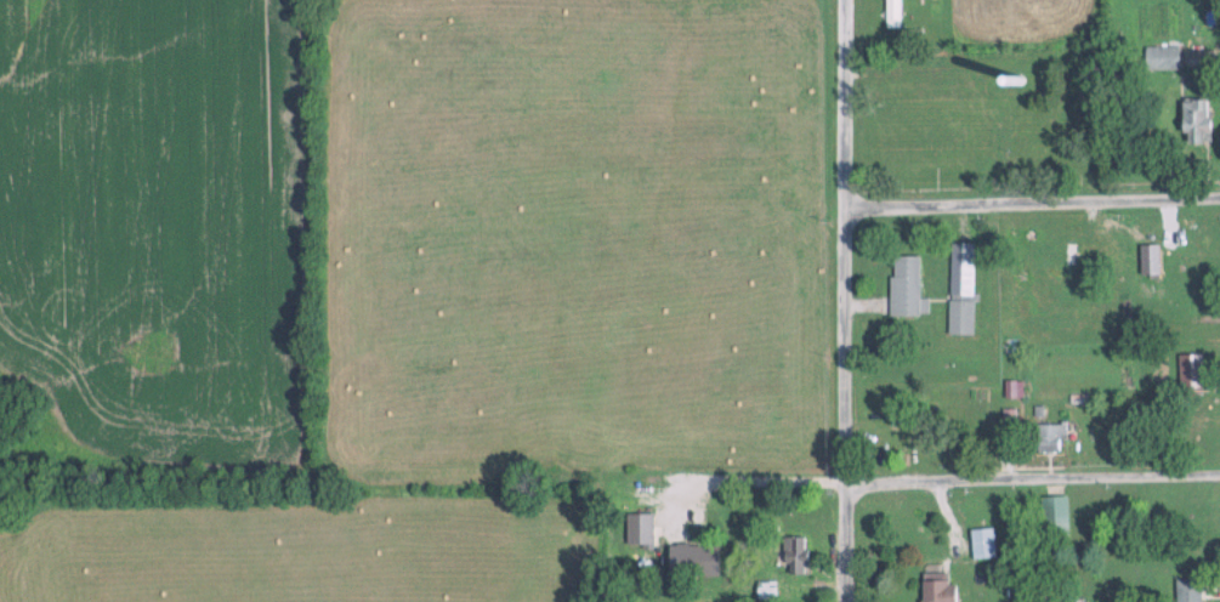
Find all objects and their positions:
building: (1159, 58)
building: (1192, 121)
road: (1032, 201)
building: (1054, 254)
building: (903, 288)
building: (959, 289)
road: (845, 301)
building: (1187, 371)
building: (1010, 390)
building: (1045, 437)
building: (889, 443)
road: (1033, 479)
building: (1051, 516)
building: (980, 544)
building: (787, 556)
building: (935, 587)
building: (1185, 590)
building: (753, 591)

